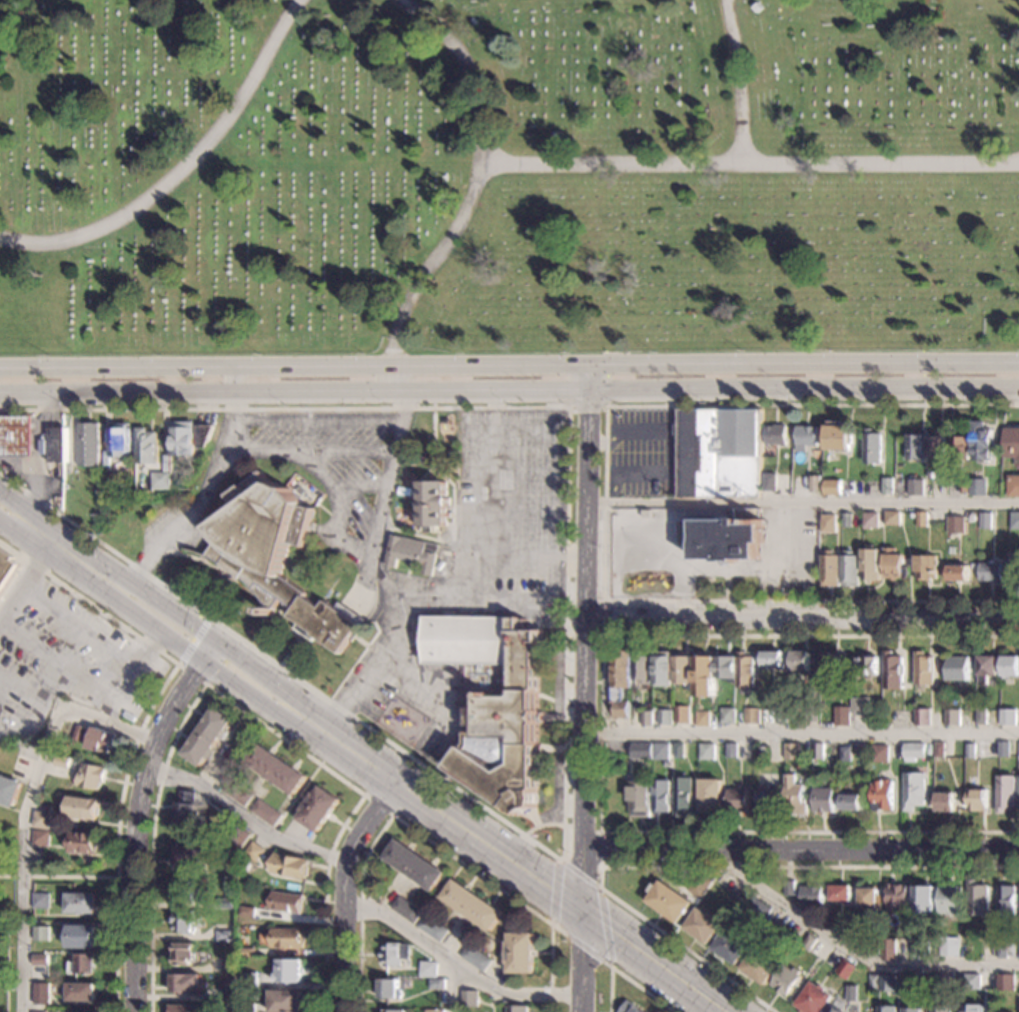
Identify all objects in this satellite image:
building: (754, 8)
road: (736, 82)
building: (554, 134)
road: (750, 164)
road: (183, 170)
park: (509, 174)
road: (474, 191)
road: (509, 361)
road: (509, 394)
road: (585, 407)
road: (315, 419)
road: (512, 432)
road: (431, 434)
building: (774, 435)
building: (16, 436)
building: (201, 436)
building: (805, 437)
building: (838, 437)
road: (666, 438)
building: (182, 439)
building: (118, 441)
building: (982, 443)
building: (57, 444)
building: (86, 445)
building: (1012, 445)
building: (937, 446)
building: (144, 447)
building: (874, 447)
building: (916, 447)
building: (960, 447)
road: (310, 453)
parking lot: (641, 453)
building: (718, 453)
road: (40, 456)
road: (435, 468)
road: (512, 473)
building: (931, 475)
building: (58, 476)
building: (159, 481)
building: (110, 482)
building: (770, 483)
building: (816, 484)
road: (361, 485)
building: (889, 486)
building: (964, 486)
building: (1014, 486)
building: (917, 487)
building: (978, 487)
building: (833, 488)
road: (206, 499)
road: (802, 501)
road: (602, 504)
building: (432, 506)
road: (335, 508)
road: (511, 517)
building: (894, 519)
building: (849, 520)
building: (872, 520)
building: (1015, 520)
building: (923, 521)
building: (986, 521)
building: (829, 523)
building: (957, 525)
road: (31, 527)
road: (422, 536)
building: (722, 539)
building: (409, 554)
building: (276, 558)
road: (526, 558)
building: (872, 564)
building: (896, 565)
building: (6, 568)
parking lot: (496, 568)
building: (928, 568)
building: (832, 570)
building: (852, 570)
building: (1015, 570)
building: (992, 572)
building: (959, 573)
road: (379, 574)
road: (23, 588)
road: (166, 608)
road: (601, 618)
road: (802, 620)
road: (0, 623)
road: (82, 626)
road: (158, 635)
road: (193, 640)
parking lot: (76, 659)
road: (58, 660)
building: (773, 660)
building: (800, 664)
building: (868, 666)
road: (138, 667)
building: (1010, 667)
building: (987, 668)
road: (377, 669)
building: (641, 669)
building: (663, 669)
building: (727, 669)
building: (924, 669)
building: (958, 669)
building: (683, 670)
building: (894, 671)
building: (746, 672)
building: (831, 672)
road: (191, 674)
building: (705, 677)
building: (620, 683)
road: (583, 686)
road: (564, 691)
building: (493, 702)
road: (42, 705)
building: (862, 706)
road: (239, 708)
road: (114, 710)
building: (813, 714)
building: (681, 715)
building: (782, 715)
building: (728, 716)
building: (752, 717)
building: (844, 717)
building: (923, 717)
building: (982, 717)
building: (1009, 717)
building: (664, 718)
building: (953, 718)
building: (645, 719)
building: (702, 719)
road: (141, 727)
building: (79, 733)
road: (801, 734)
road: (328, 735)
road: (599, 735)
building: (208, 738)
building: (101, 740)
building: (1004, 749)
building: (940, 750)
road: (356, 751)
building: (678, 751)
building: (731, 751)
building: (793, 751)
building: (818, 751)
building: (915, 751)
building: (971, 751)
building: (640, 752)
building: (660, 752)
building: (706, 752)
building: (763, 754)
building: (846, 754)
building: (880, 754)
road: (353, 755)
building: (62, 761)
building: (277, 769)
building: (90, 776)
road: (388, 776)
building: (9, 790)
building: (914, 791)
building: (238, 792)
building: (1006, 794)
building: (710, 796)
building: (883, 796)
building: (660, 797)
building: (682, 797)
building: (795, 797)
building: (639, 799)
building: (769, 799)
building: (737, 800)
building: (824, 800)
building: (977, 800)
building: (1018, 801)
building: (852, 802)
building: (945, 802)
road: (379, 805)
building: (79, 808)
building: (319, 809)
road: (26, 810)
building: (186, 810)
road: (244, 813)
building: (268, 813)
road: (135, 816)
building: (41, 819)
road: (367, 819)
road: (541, 824)
road: (423, 836)
building: (241, 837)
building: (40, 838)
building: (81, 843)
road: (487, 844)
road: (599, 849)
road: (800, 851)
building: (256, 852)
building: (195, 856)
building: (414, 865)
building: (291, 866)
road: (690, 867)
road: (58, 876)
building: (698, 885)
building: (788, 888)
building: (182, 891)
building: (840, 894)
building: (810, 896)
building: (41, 899)
building: (977, 899)
building: (897, 900)
building: (924, 900)
building: (949, 900)
building: (1005, 901)
building: (288, 902)
building: (667, 902)
building: (870, 902)
building: (81, 903)
building: (225, 903)
building: (472, 905)
traffic signals: (579, 907)
building: (407, 910)
building: (755, 910)
building: (249, 912)
building: (184, 922)
building: (702, 926)
building: (433, 928)
building: (40, 934)
building: (850, 934)
road: (341, 935)
building: (225, 936)
building: (81, 937)
building: (289, 939)
park: (7, 941)
building: (807, 943)
building: (730, 947)
building: (948, 947)
building: (871, 948)
building: (920, 949)
building: (887, 950)
building: (987, 950)
building: (1004, 950)
building: (1018, 951)
building: (249, 953)
building: (518, 953)
road: (855, 953)
building: (184, 954)
building: (395, 954)
building: (476, 958)
building: (40, 959)
road: (653, 959)
road: (457, 961)
road: (606, 964)
building: (82, 965)
building: (229, 965)
building: (759, 967)
building: (843, 969)
building: (290, 972)
building: (436, 972)
road: (623, 976)
building: (250, 979)
building: (917, 979)
building: (786, 980)
building: (873, 982)
building: (940, 982)
building: (971, 982)
building: (1004, 983)
building: (185, 984)
building: (887, 984)
building: (437, 985)
road: (455, 986)
building: (390, 989)
building: (81, 992)
building: (41, 993)
building: (851, 993)
building: (228, 995)
building: (470, 999)
building: (812, 999)
building: (287, 1001)
building: (248, 1007)
building: (628, 1007)
building: (941, 1008)
building: (973, 1008)
building: (185, 1009)
building: (515, 1009)
building: (833, 1009)
building: (887, 1009)
building: (912, 1010)
building: (39, 1011)
building: (80, 1011)
building: (393, 1011)
building: (434, 1011)

